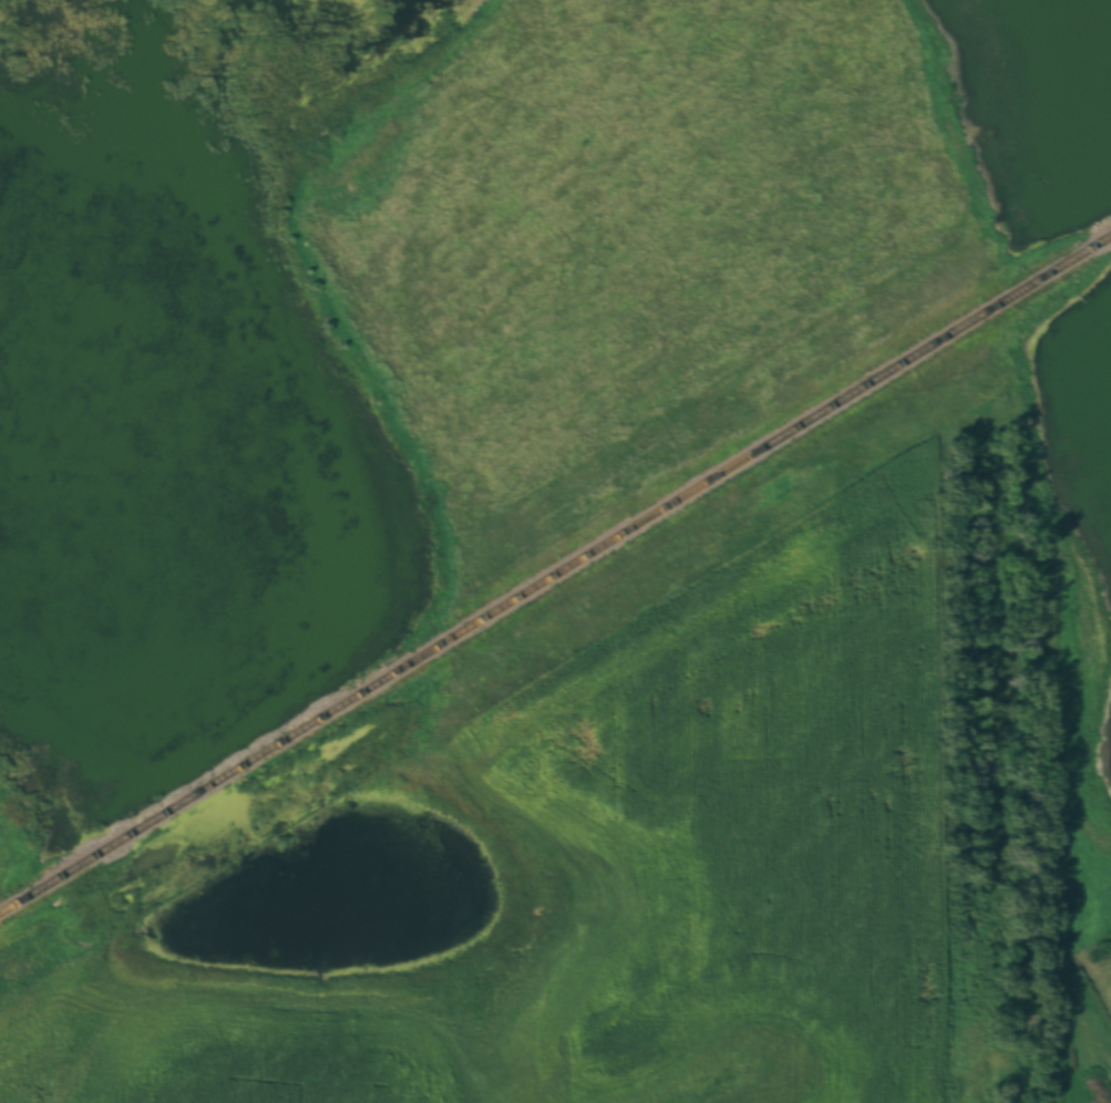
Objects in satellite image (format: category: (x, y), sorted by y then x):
railway: (555, 579)

